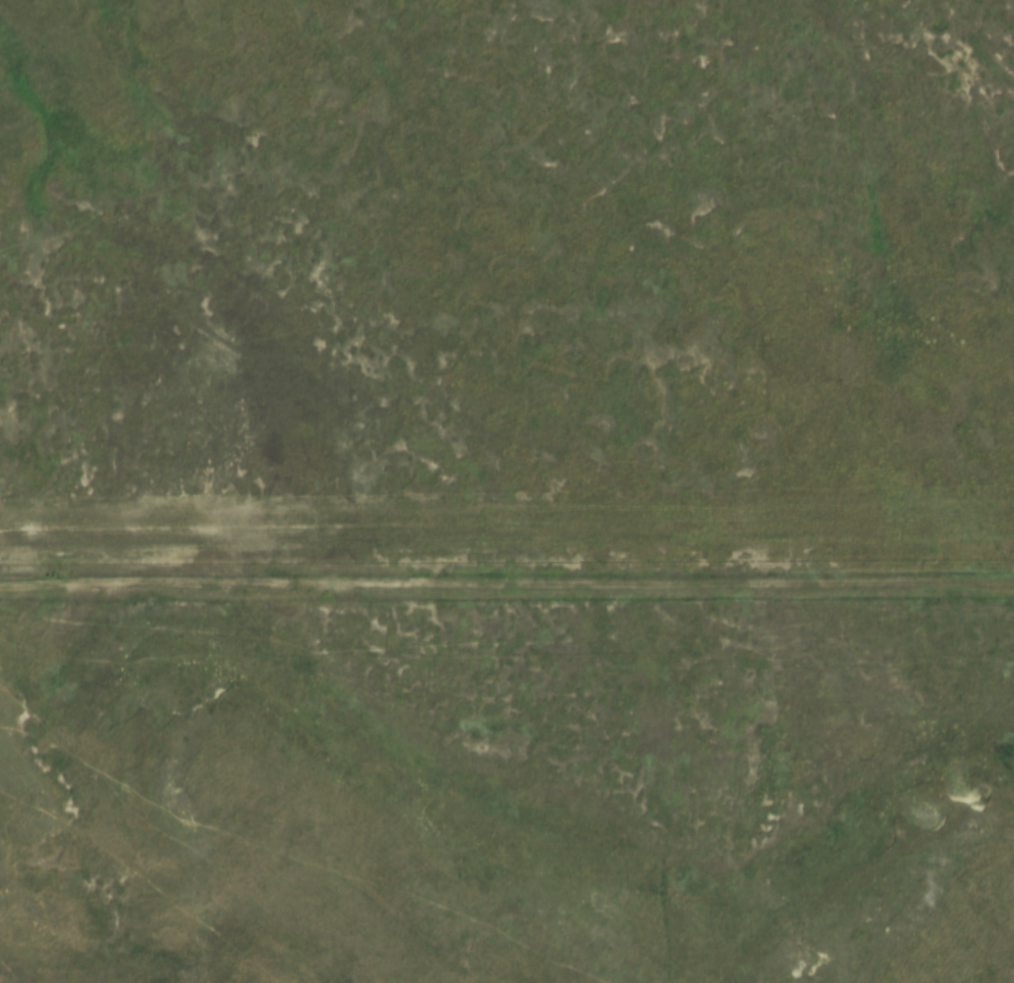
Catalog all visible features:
road: (507, 590)

